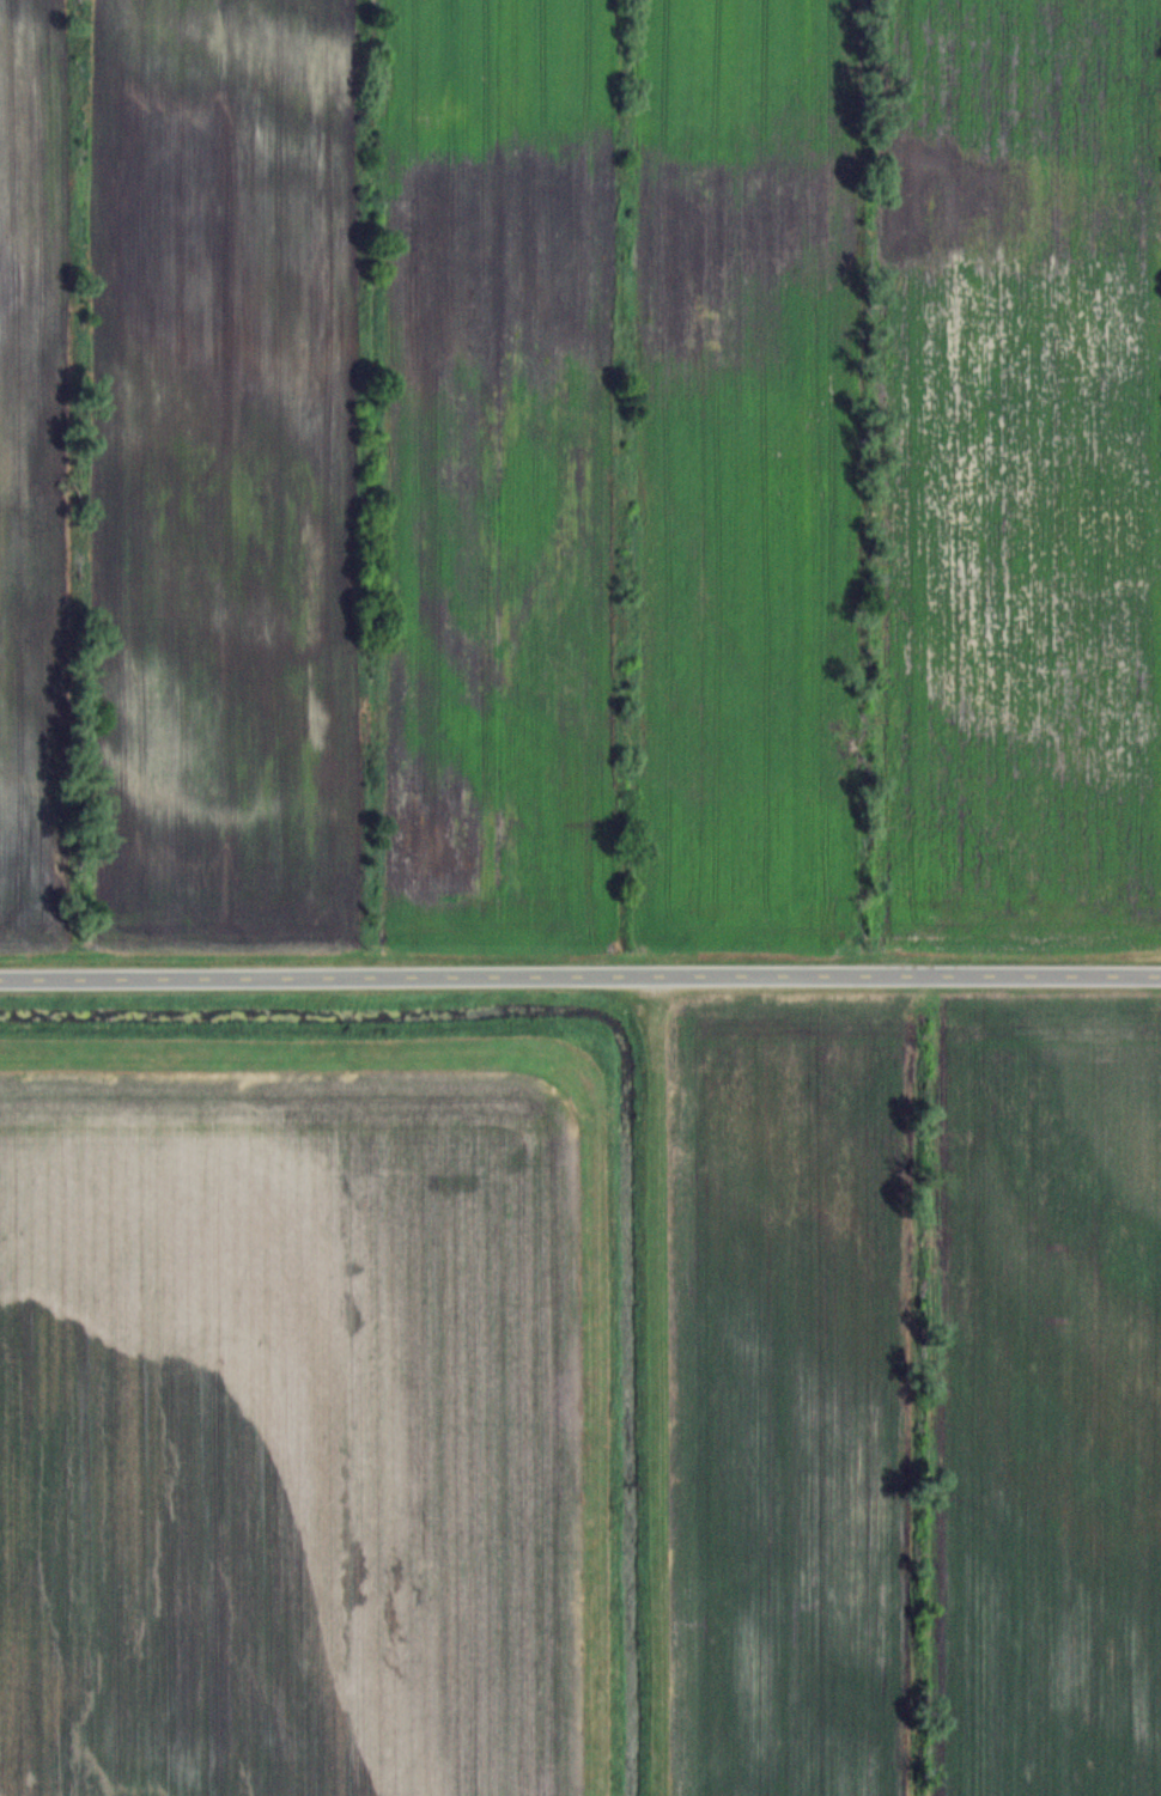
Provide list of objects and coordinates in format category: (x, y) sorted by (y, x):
road: (580, 978)

